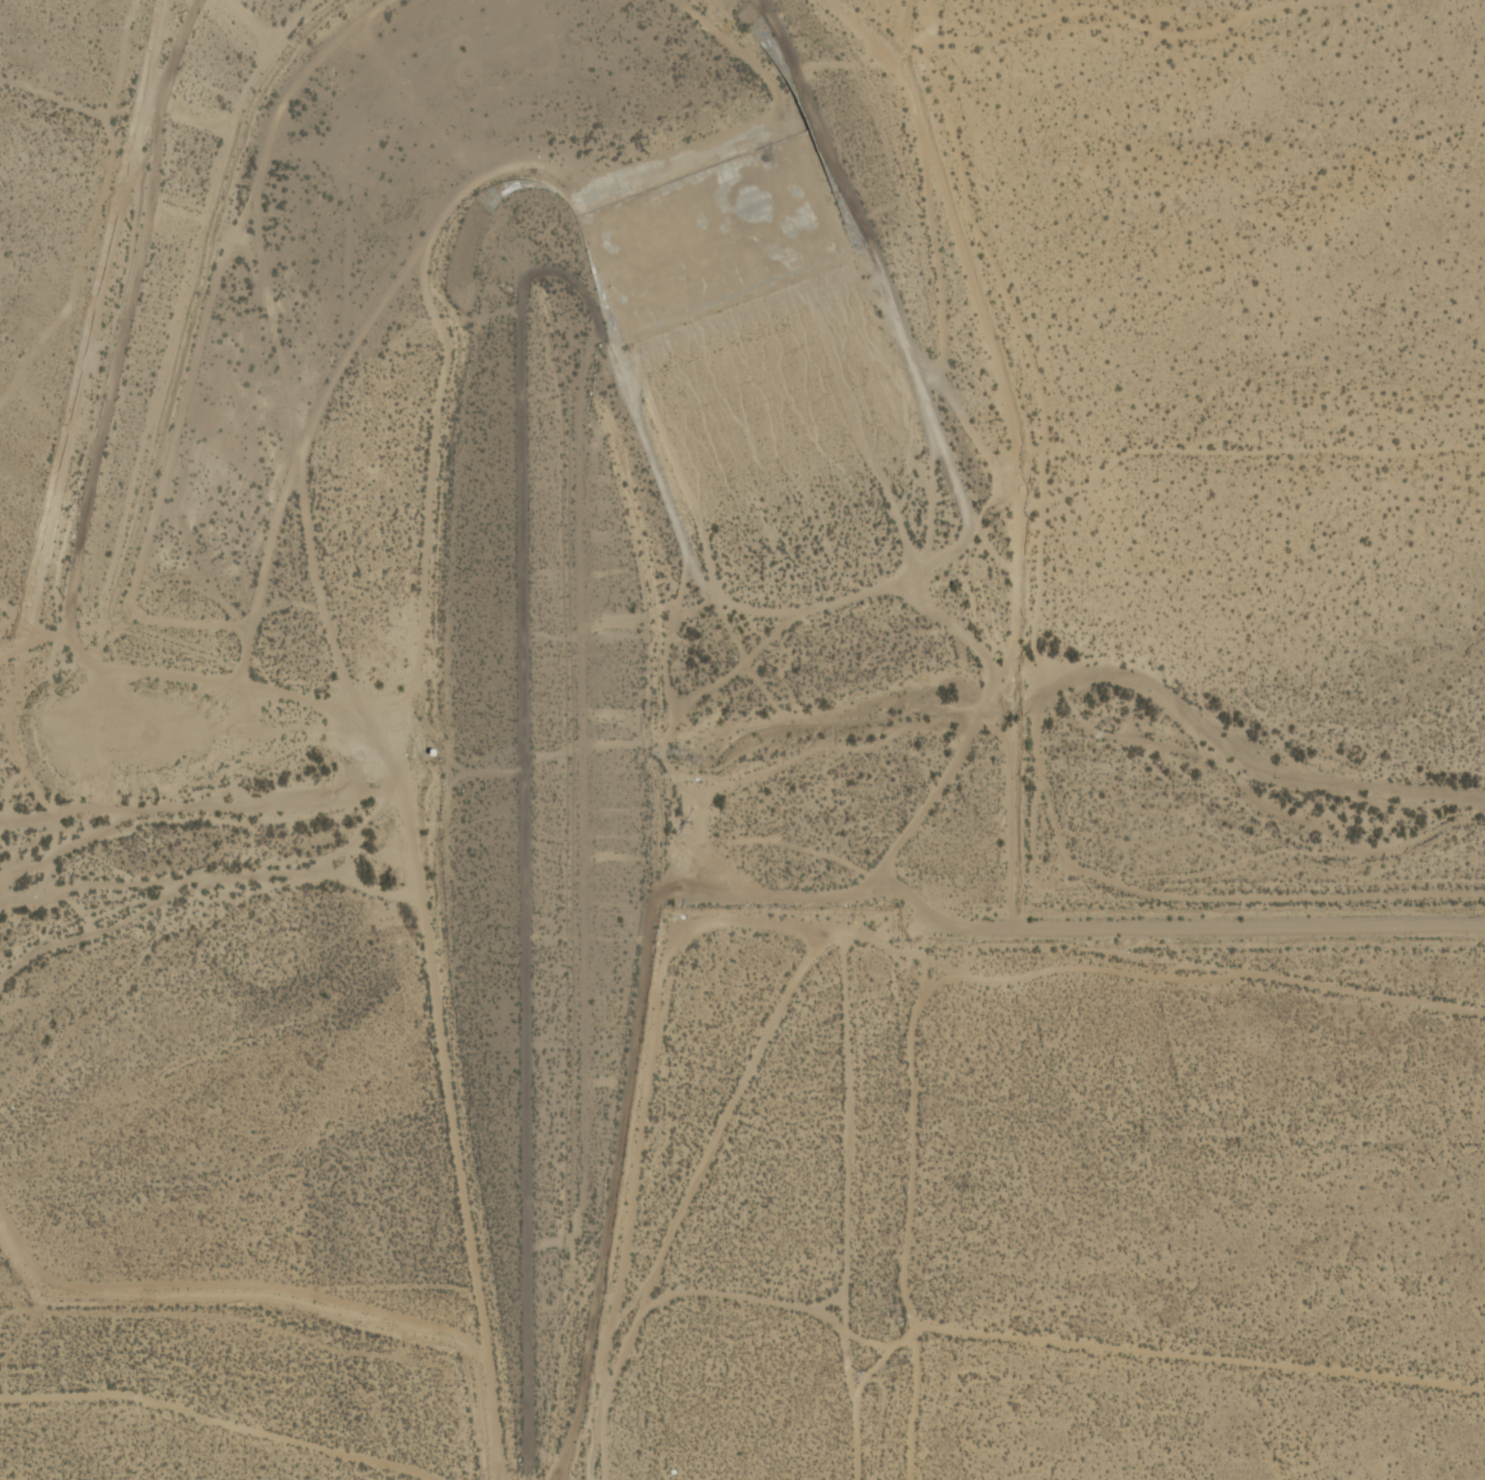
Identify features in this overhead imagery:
dam: (523, 874)

